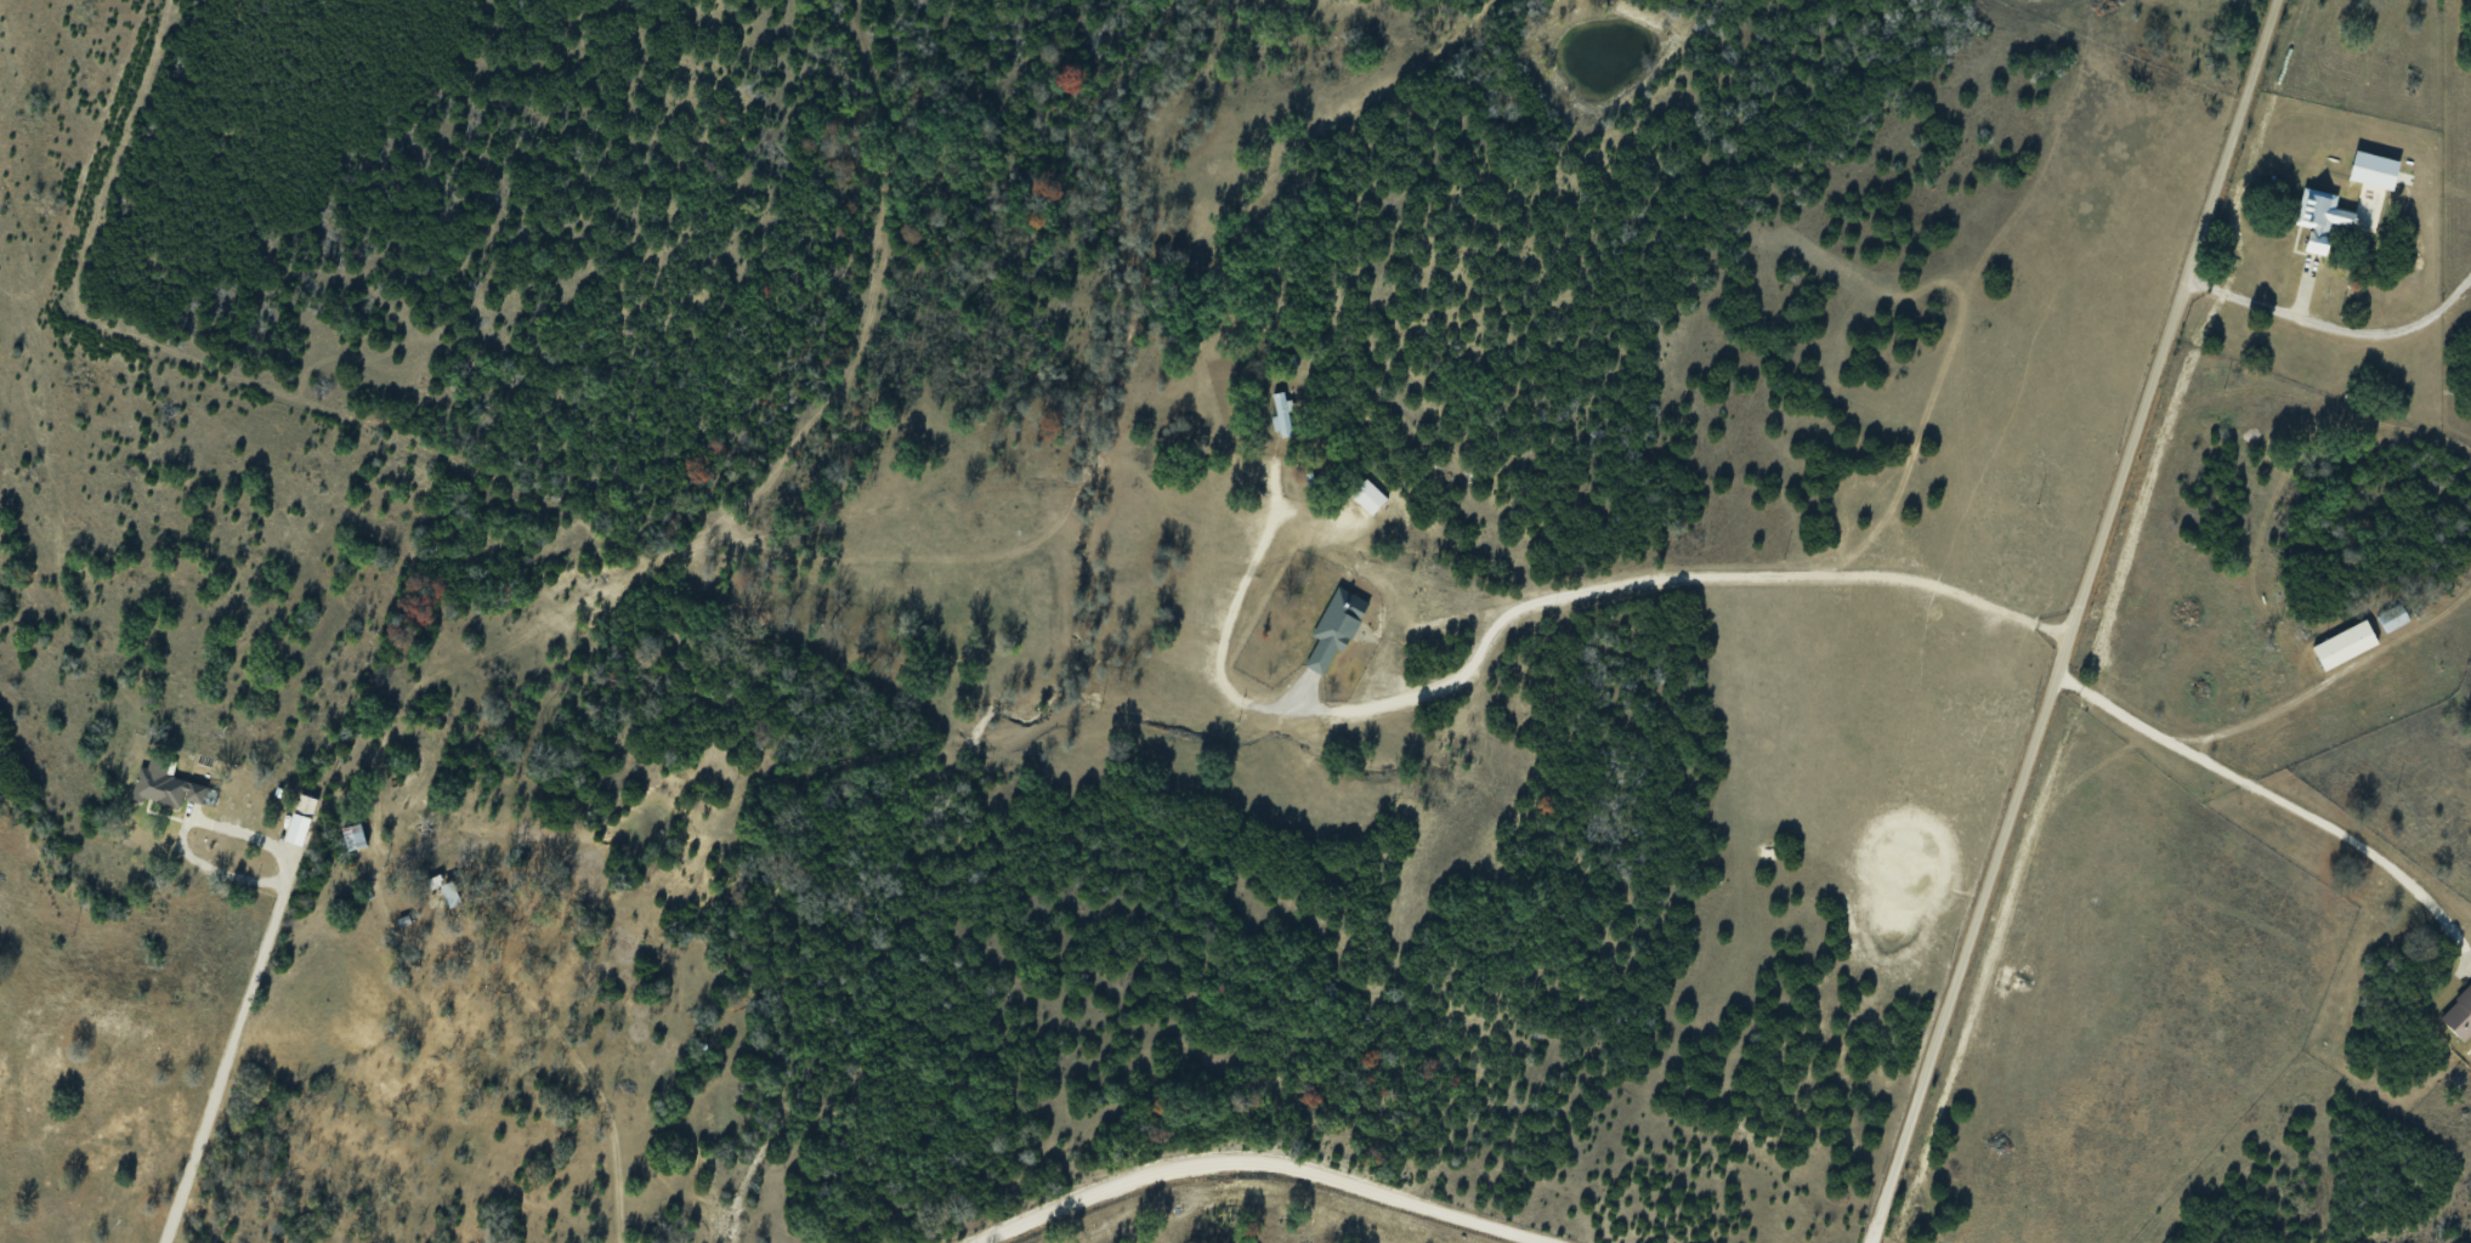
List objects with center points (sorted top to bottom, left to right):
building: (2313, 220)
building: (1280, 413)
building: (1366, 496)
building: (2390, 618)
road: (2075, 621)
building: (1330, 631)
building: (2340, 645)
building: (161, 785)
building: (304, 805)
building: (348, 836)
building: (441, 890)
building: (2458, 1015)
road: (1265, 1162)

